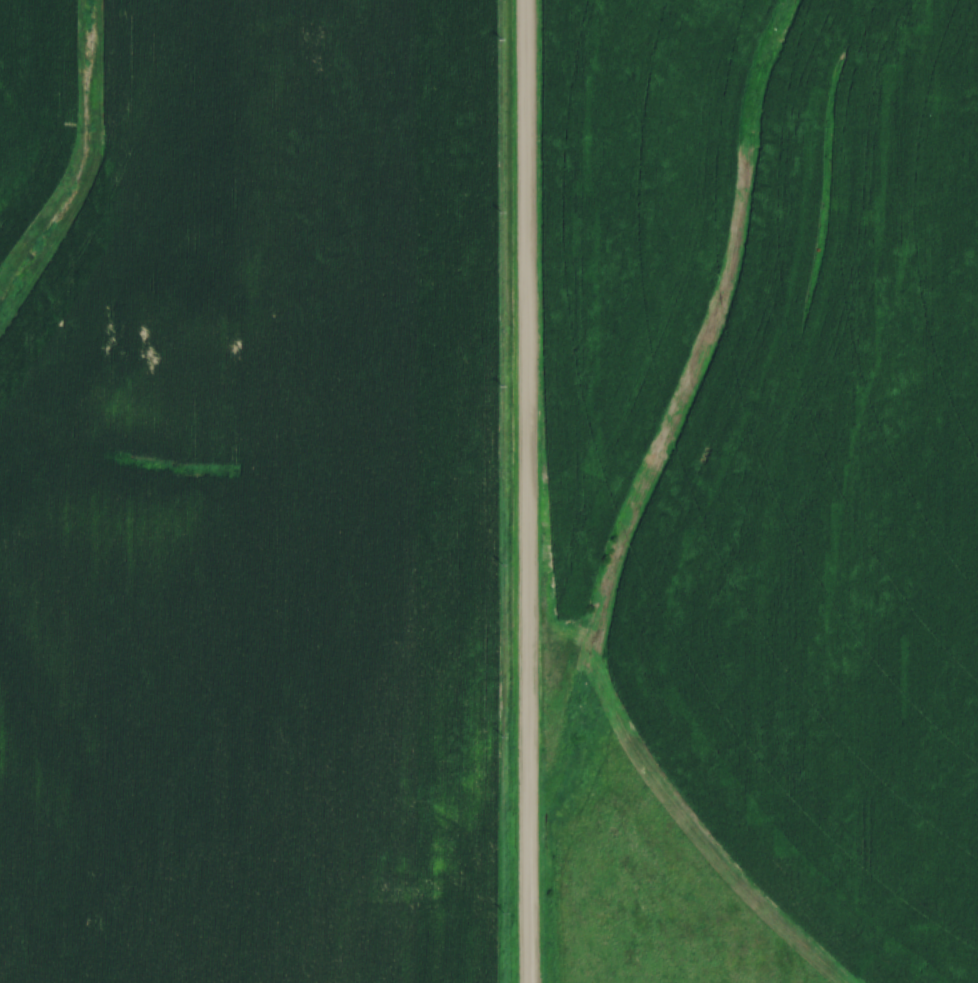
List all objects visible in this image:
road: (524, 491)

